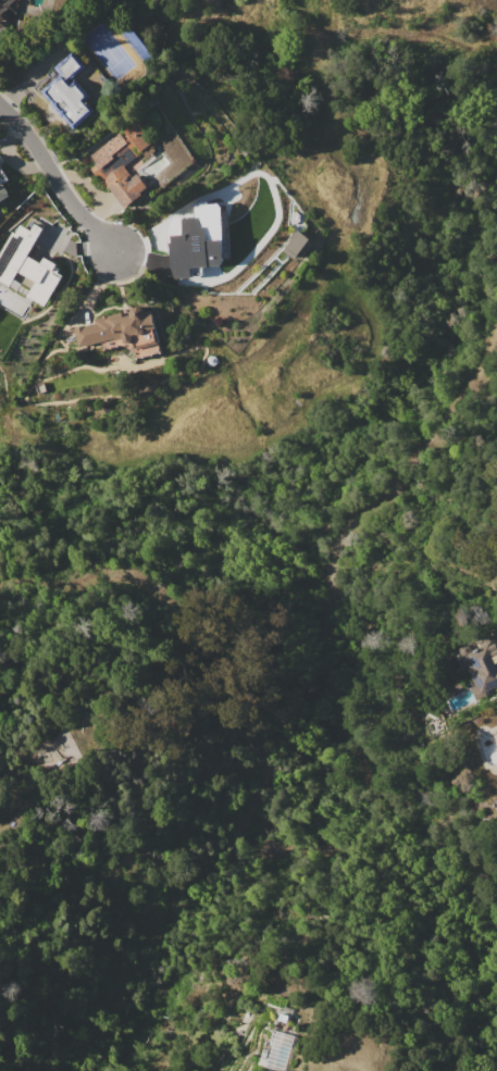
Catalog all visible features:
building: (7, 12)
building: (69, 90)
building: (122, 161)
building: (0, 163)
road: (57, 177)
building: (3, 186)
building: (195, 241)
building: (296, 244)
building: (26, 265)
building: (123, 332)
building: (479, 664)

